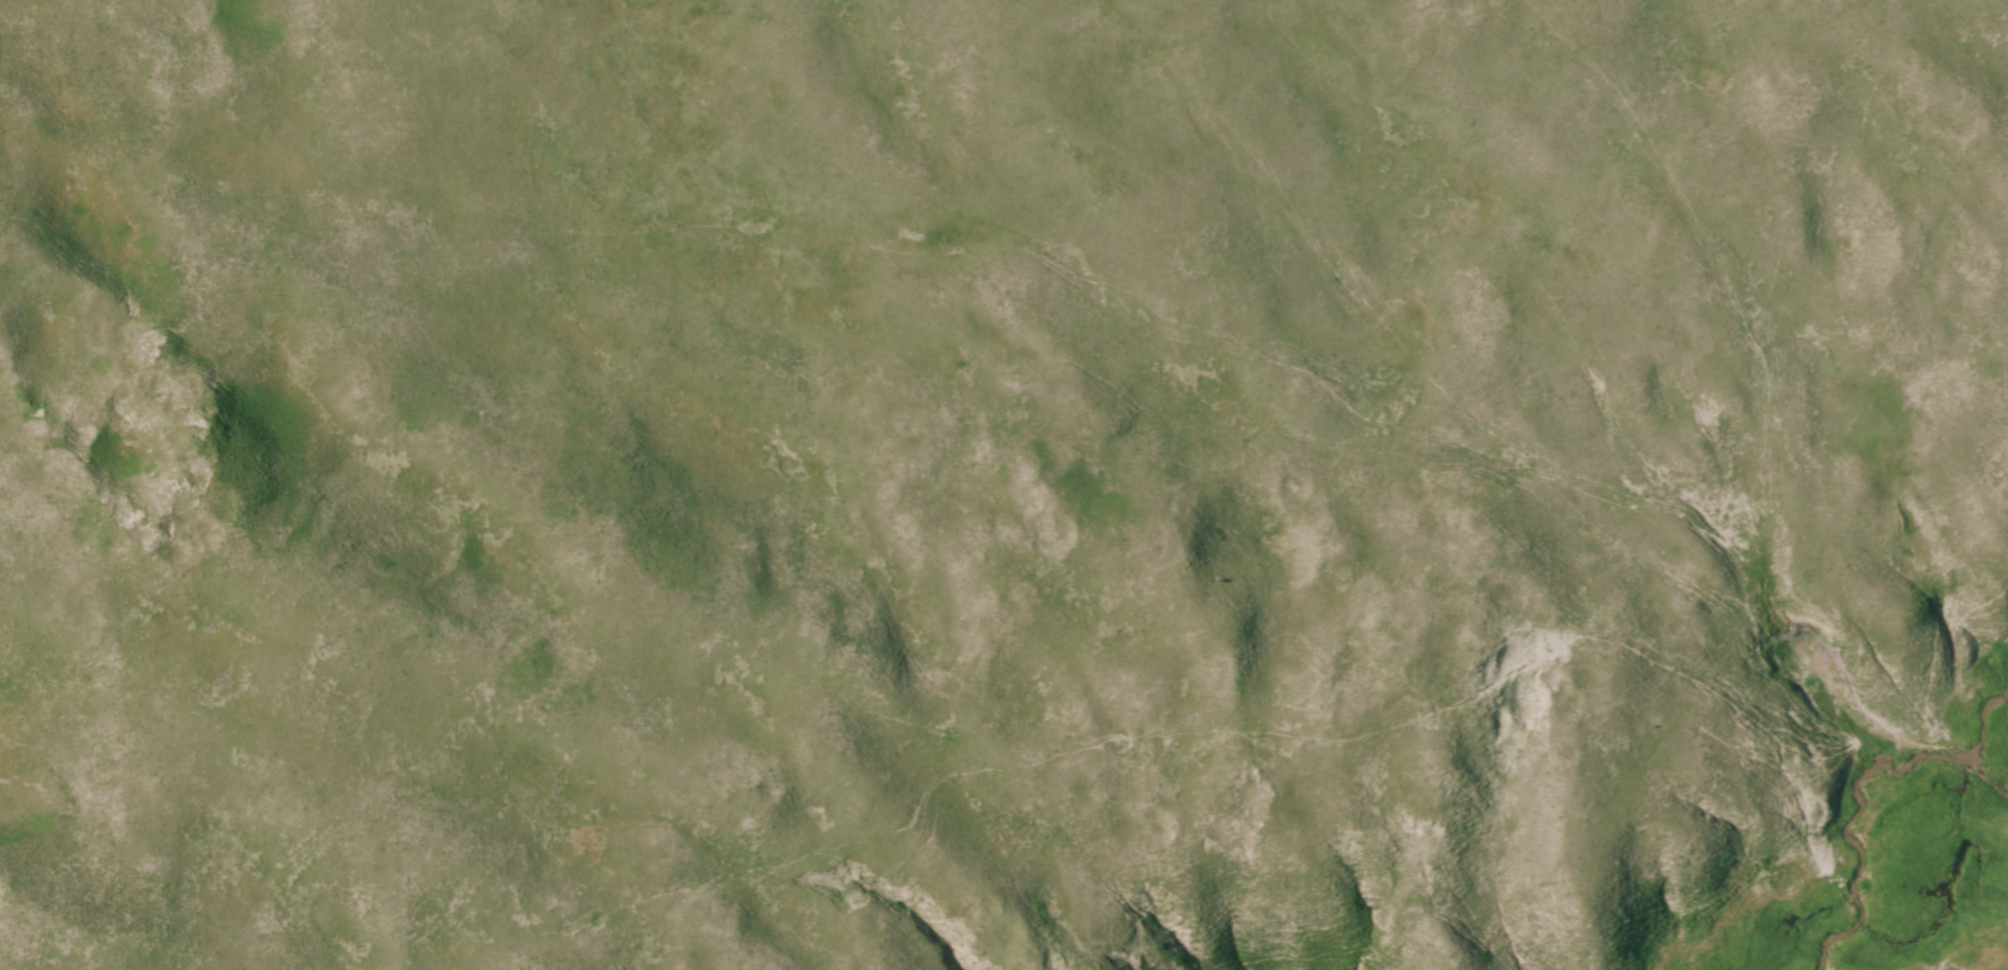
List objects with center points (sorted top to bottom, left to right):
river: (1914, 849)

